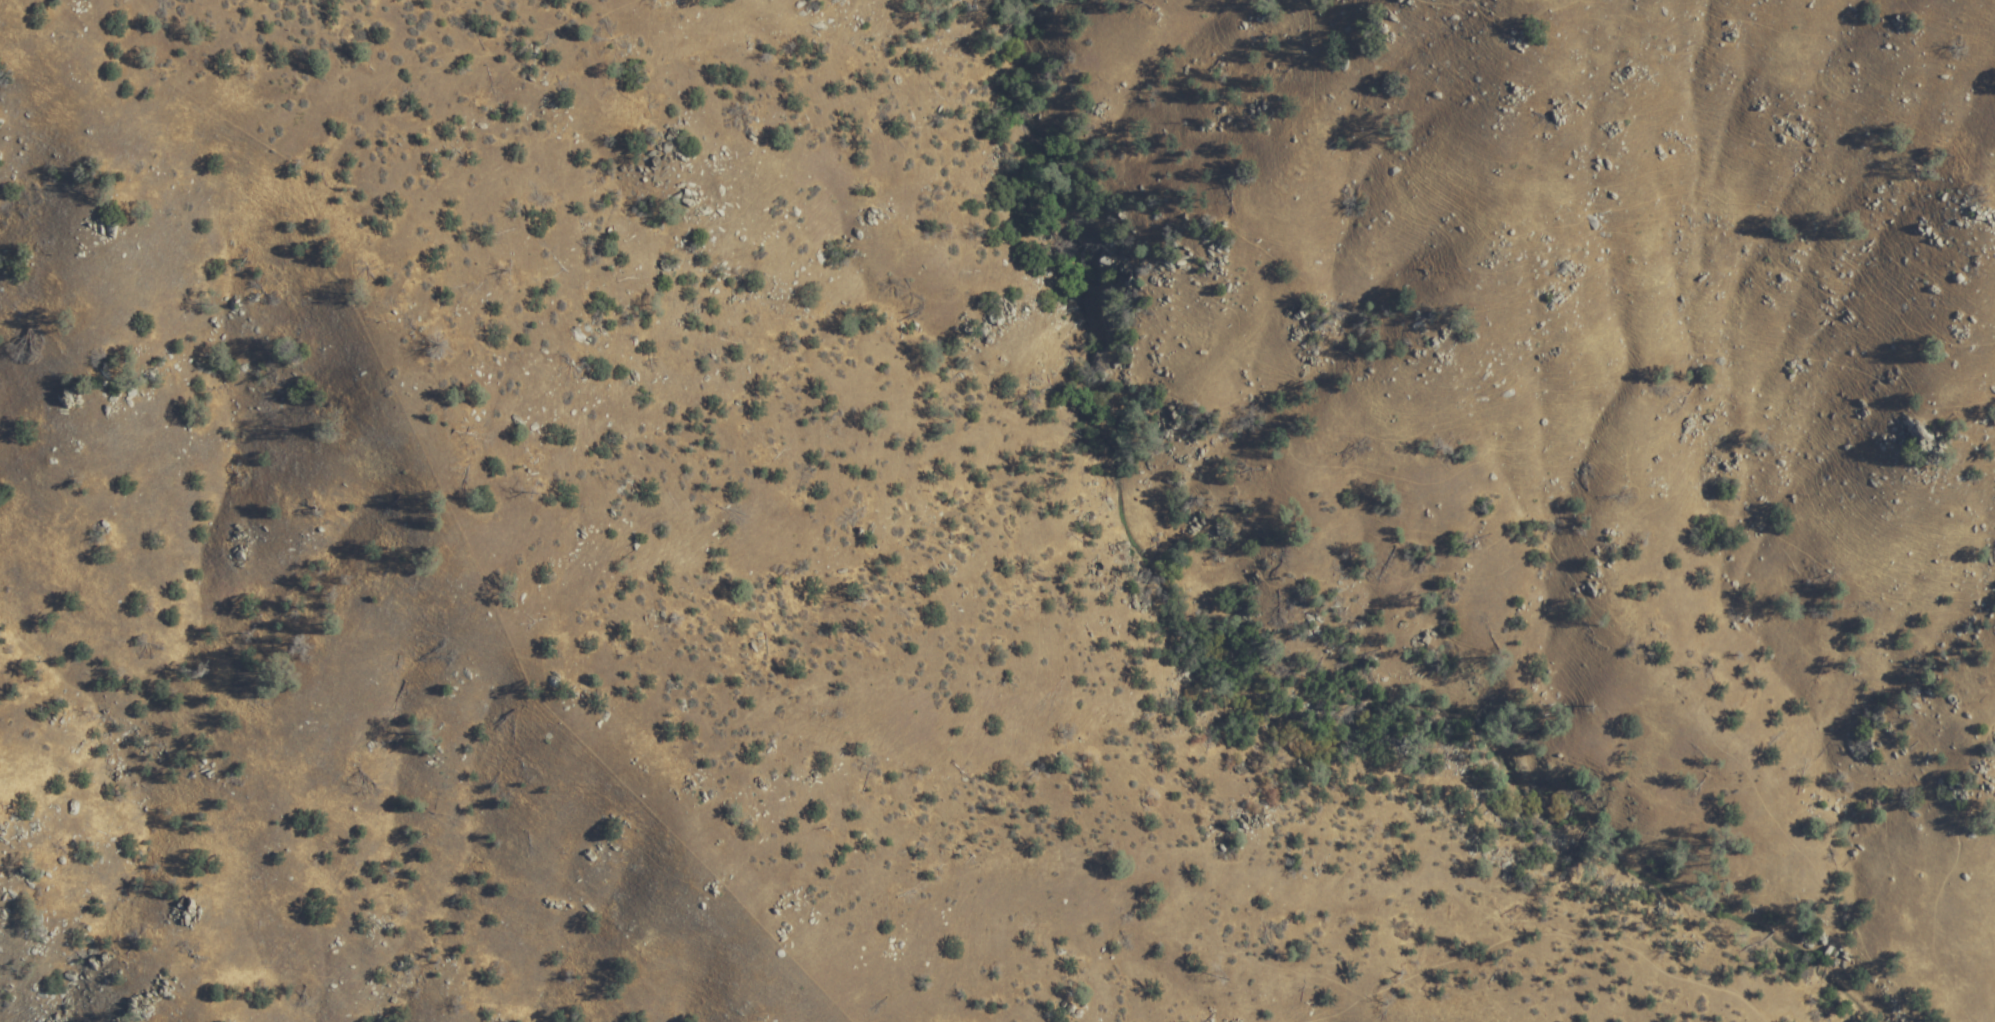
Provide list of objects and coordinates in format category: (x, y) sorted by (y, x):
road: (1535, 934)

